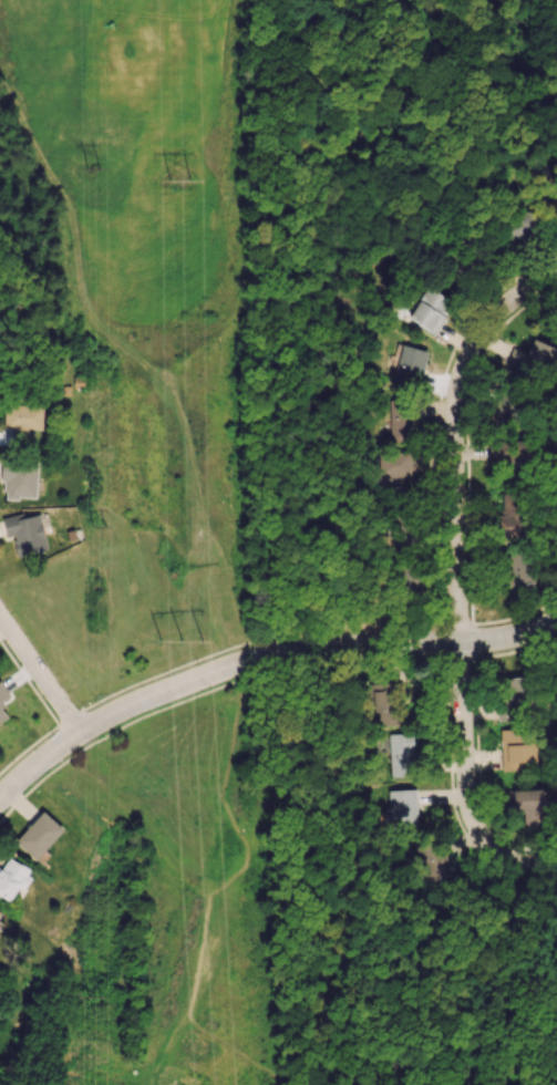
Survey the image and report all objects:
power tower: (96, 170)
power tower: (187, 173)
road: (435, 219)
building: (520, 227)
building: (429, 310)
building: (532, 358)
building: (409, 363)
building: (505, 407)
building: (402, 420)
road: (456, 435)
building: (510, 453)
road: (305, 457)
building: (394, 469)
building: (19, 478)
building: (508, 517)
power tower: (103, 527)
building: (402, 531)
building: (24, 534)
building: (516, 567)
power tower: (188, 643)
road: (260, 657)
road: (40, 675)
building: (512, 696)
building: (384, 707)
building: (2, 714)
building: (516, 748)
building: (400, 754)
road: (463, 783)
building: (533, 803)
building: (401, 807)
building: (38, 835)
building: (432, 860)
building: (12, 878)
building: (0, 912)
power tower: (101, 998)

